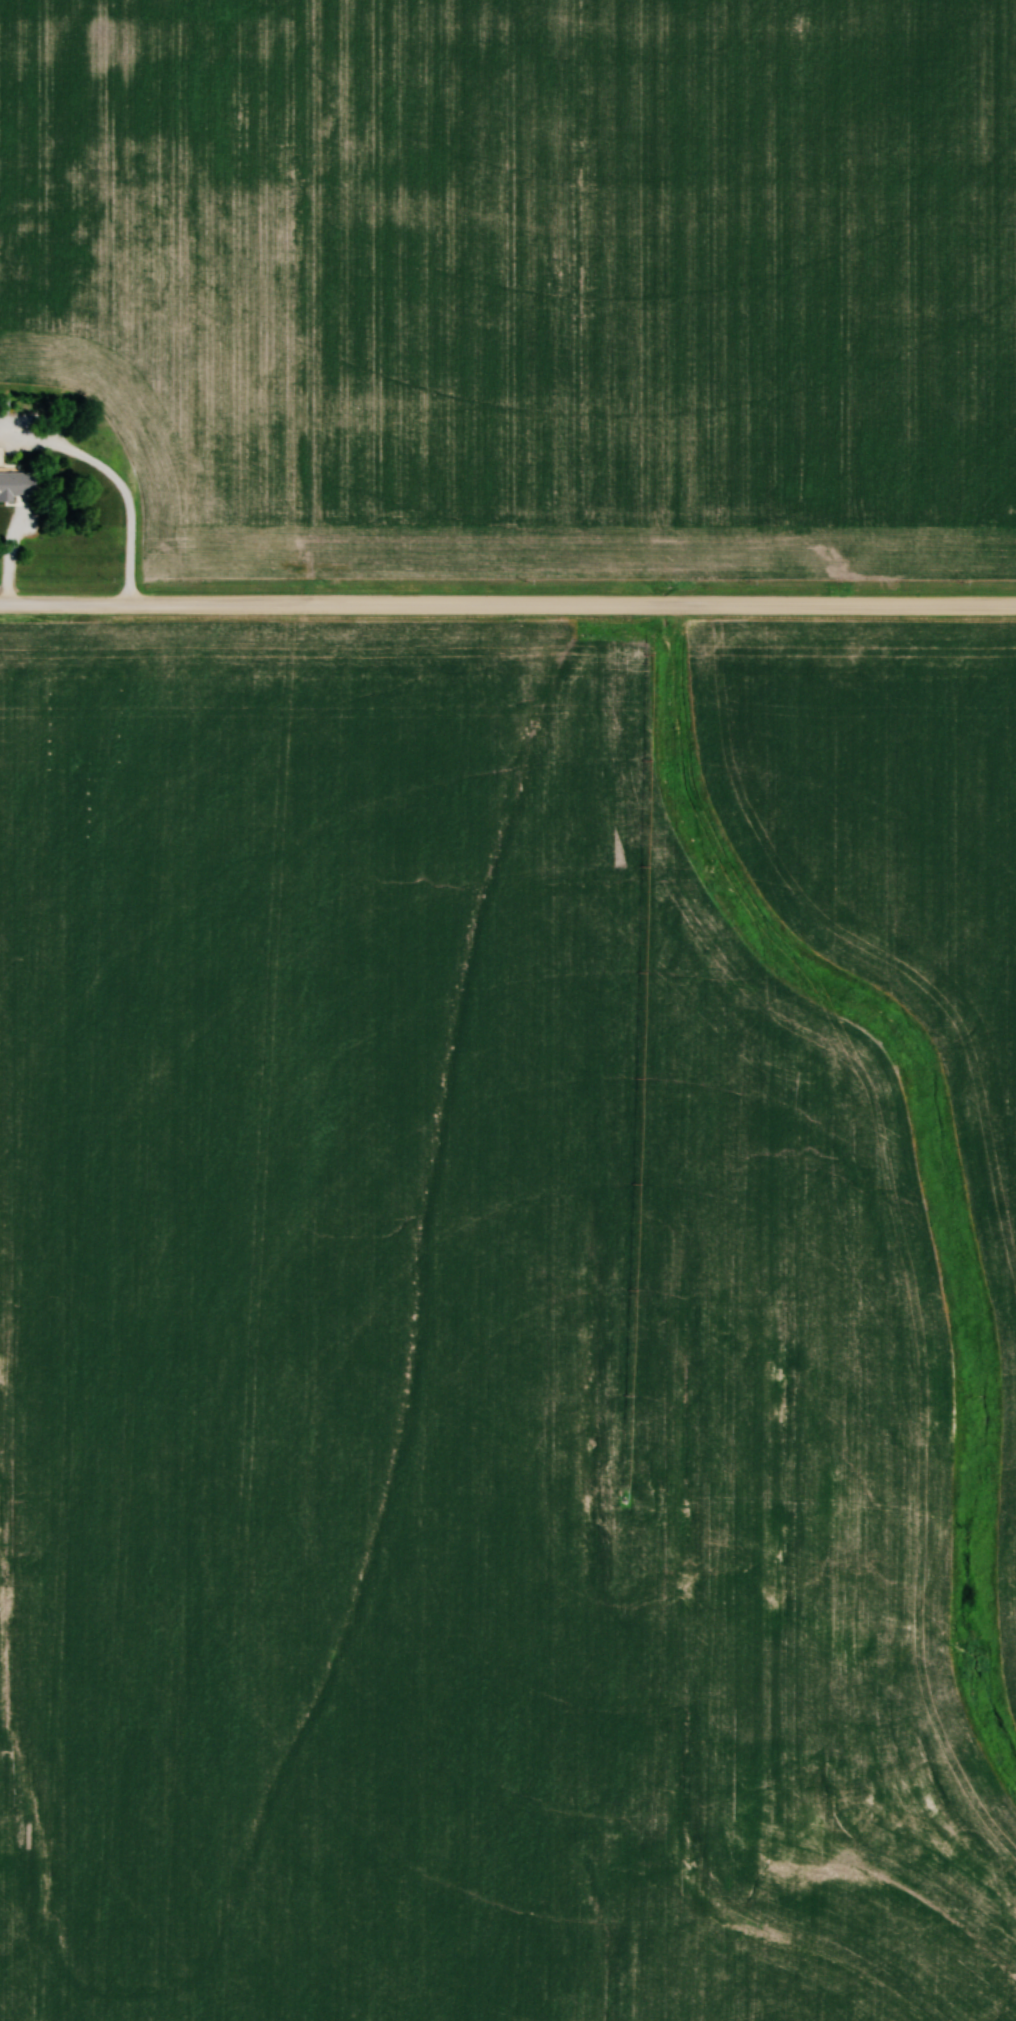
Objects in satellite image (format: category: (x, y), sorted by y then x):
road: (70, 406)
building: (13, 483)
road: (508, 608)

